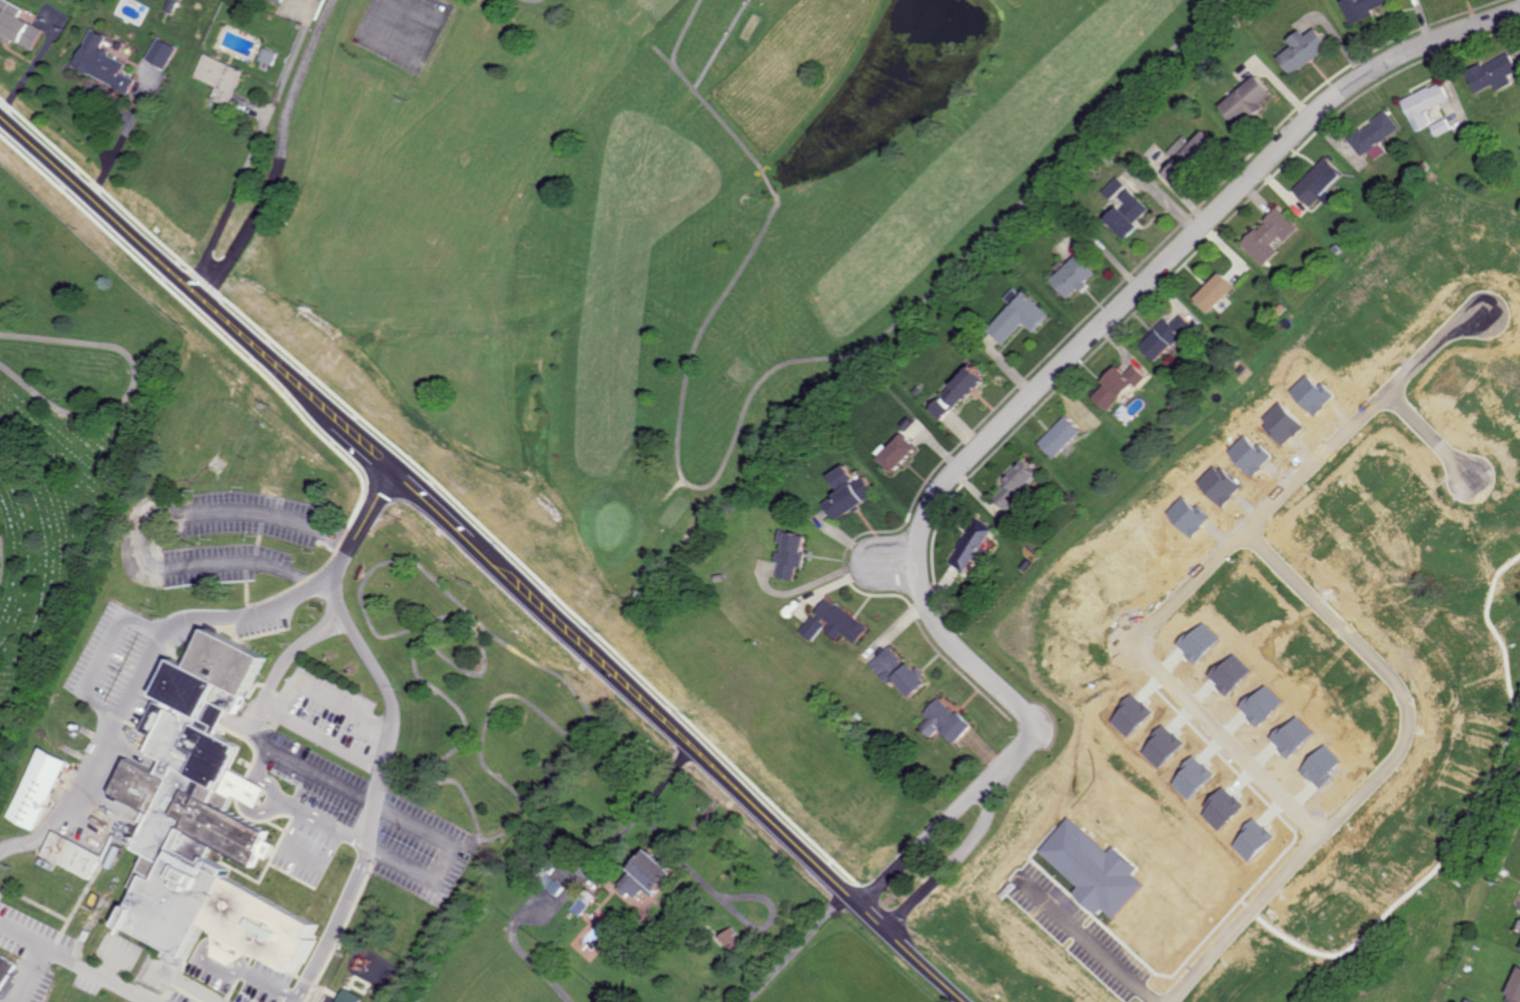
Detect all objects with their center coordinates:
building: (278, 1)
building: (168, 5)
building: (1359, 8)
building: (16, 26)
park: (402, 30)
building: (1303, 49)
building: (159, 52)
building: (265, 55)
building: (100, 62)
building: (1492, 72)
road: (25, 76)
building: (218, 77)
building: (1246, 100)
building: (1424, 104)
building: (1440, 126)
building: (1373, 135)
road: (255, 142)
road: (116, 143)
road: (277, 148)
building: (1187, 156)
building: (1317, 181)
building: (1113, 188)
building: (1126, 214)
building: (1267, 235)
park: (642, 236)
road: (151, 239)
road: (136, 247)
building: (1073, 275)
building: (1212, 292)
building: (1018, 317)
building: (1165, 337)
road: (1078, 351)
road: (129, 384)
building: (1116, 385)
building: (954, 393)
park: (64, 418)
road: (1431, 434)
building: (1060, 436)
building: (896, 452)
building: (1016, 484)
building: (846, 492)
road: (147, 528)
building: (970, 544)
building: (788, 555)
road: (1208, 568)
road: (372, 570)
road: (481, 573)
building: (833, 623)
road: (158, 639)
road: (105, 656)
road: (281, 669)
building: (896, 671)
road: (327, 696)
building: (943, 721)
road: (389, 733)
road: (323, 734)
road: (265, 762)
road: (1380, 772)
road: (257, 778)
building: (37, 786)
road: (325, 818)
building: (201, 819)
road: (413, 822)
road: (42, 830)
road: (918, 845)
road: (304, 857)
road: (947, 869)
building: (644, 875)
road: (571, 888)
road: (725, 898)
building: (580, 907)
building: (730, 939)
road: (1086, 940)
road: (789, 949)
road: (199, 954)
road: (75, 961)
road: (110, 966)
building: (6, 969)
road: (30, 973)
road: (267, 982)
building: (1515, 987)
road: (188, 988)
building: (350, 996)
building: (1470, 1000)

